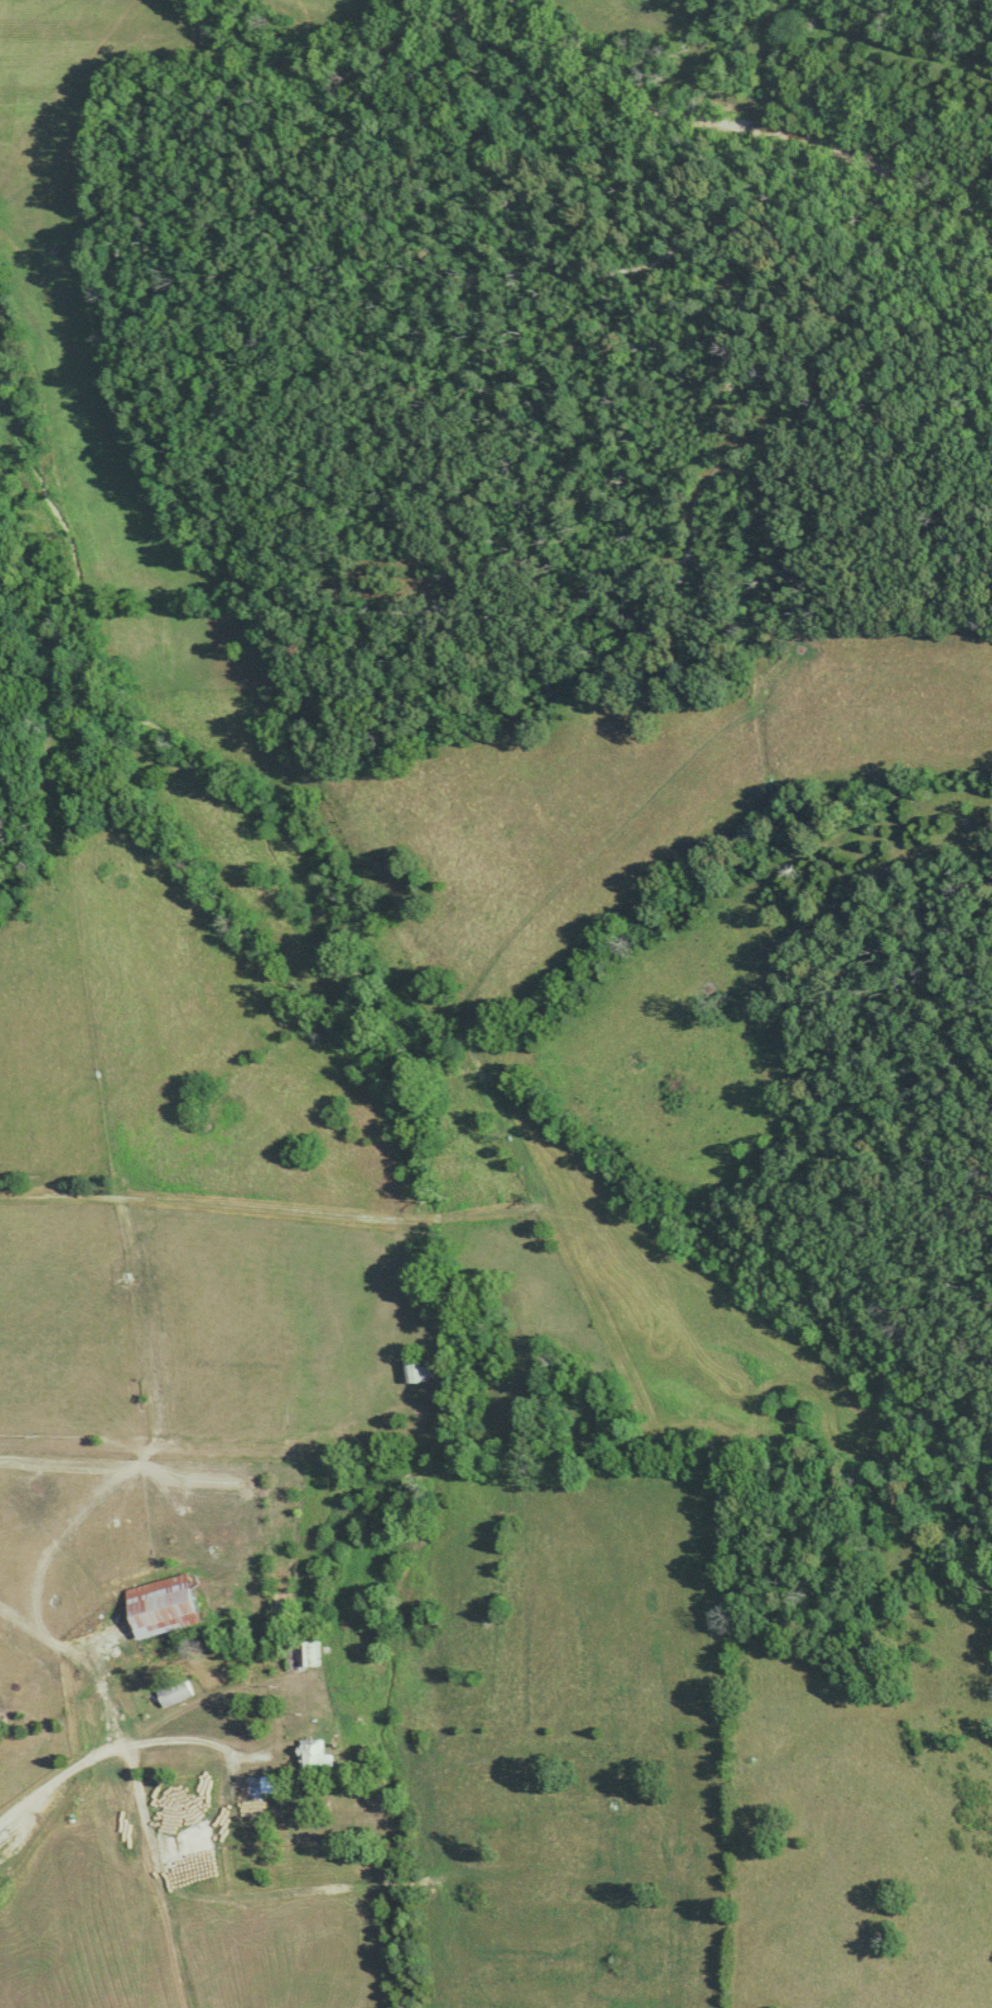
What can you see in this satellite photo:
road: (12, 232)
building: (421, 1369)
building: (161, 1606)
building: (304, 1655)
building: (174, 1692)
building: (314, 1752)
road: (170, 1753)
building: (268, 1784)

